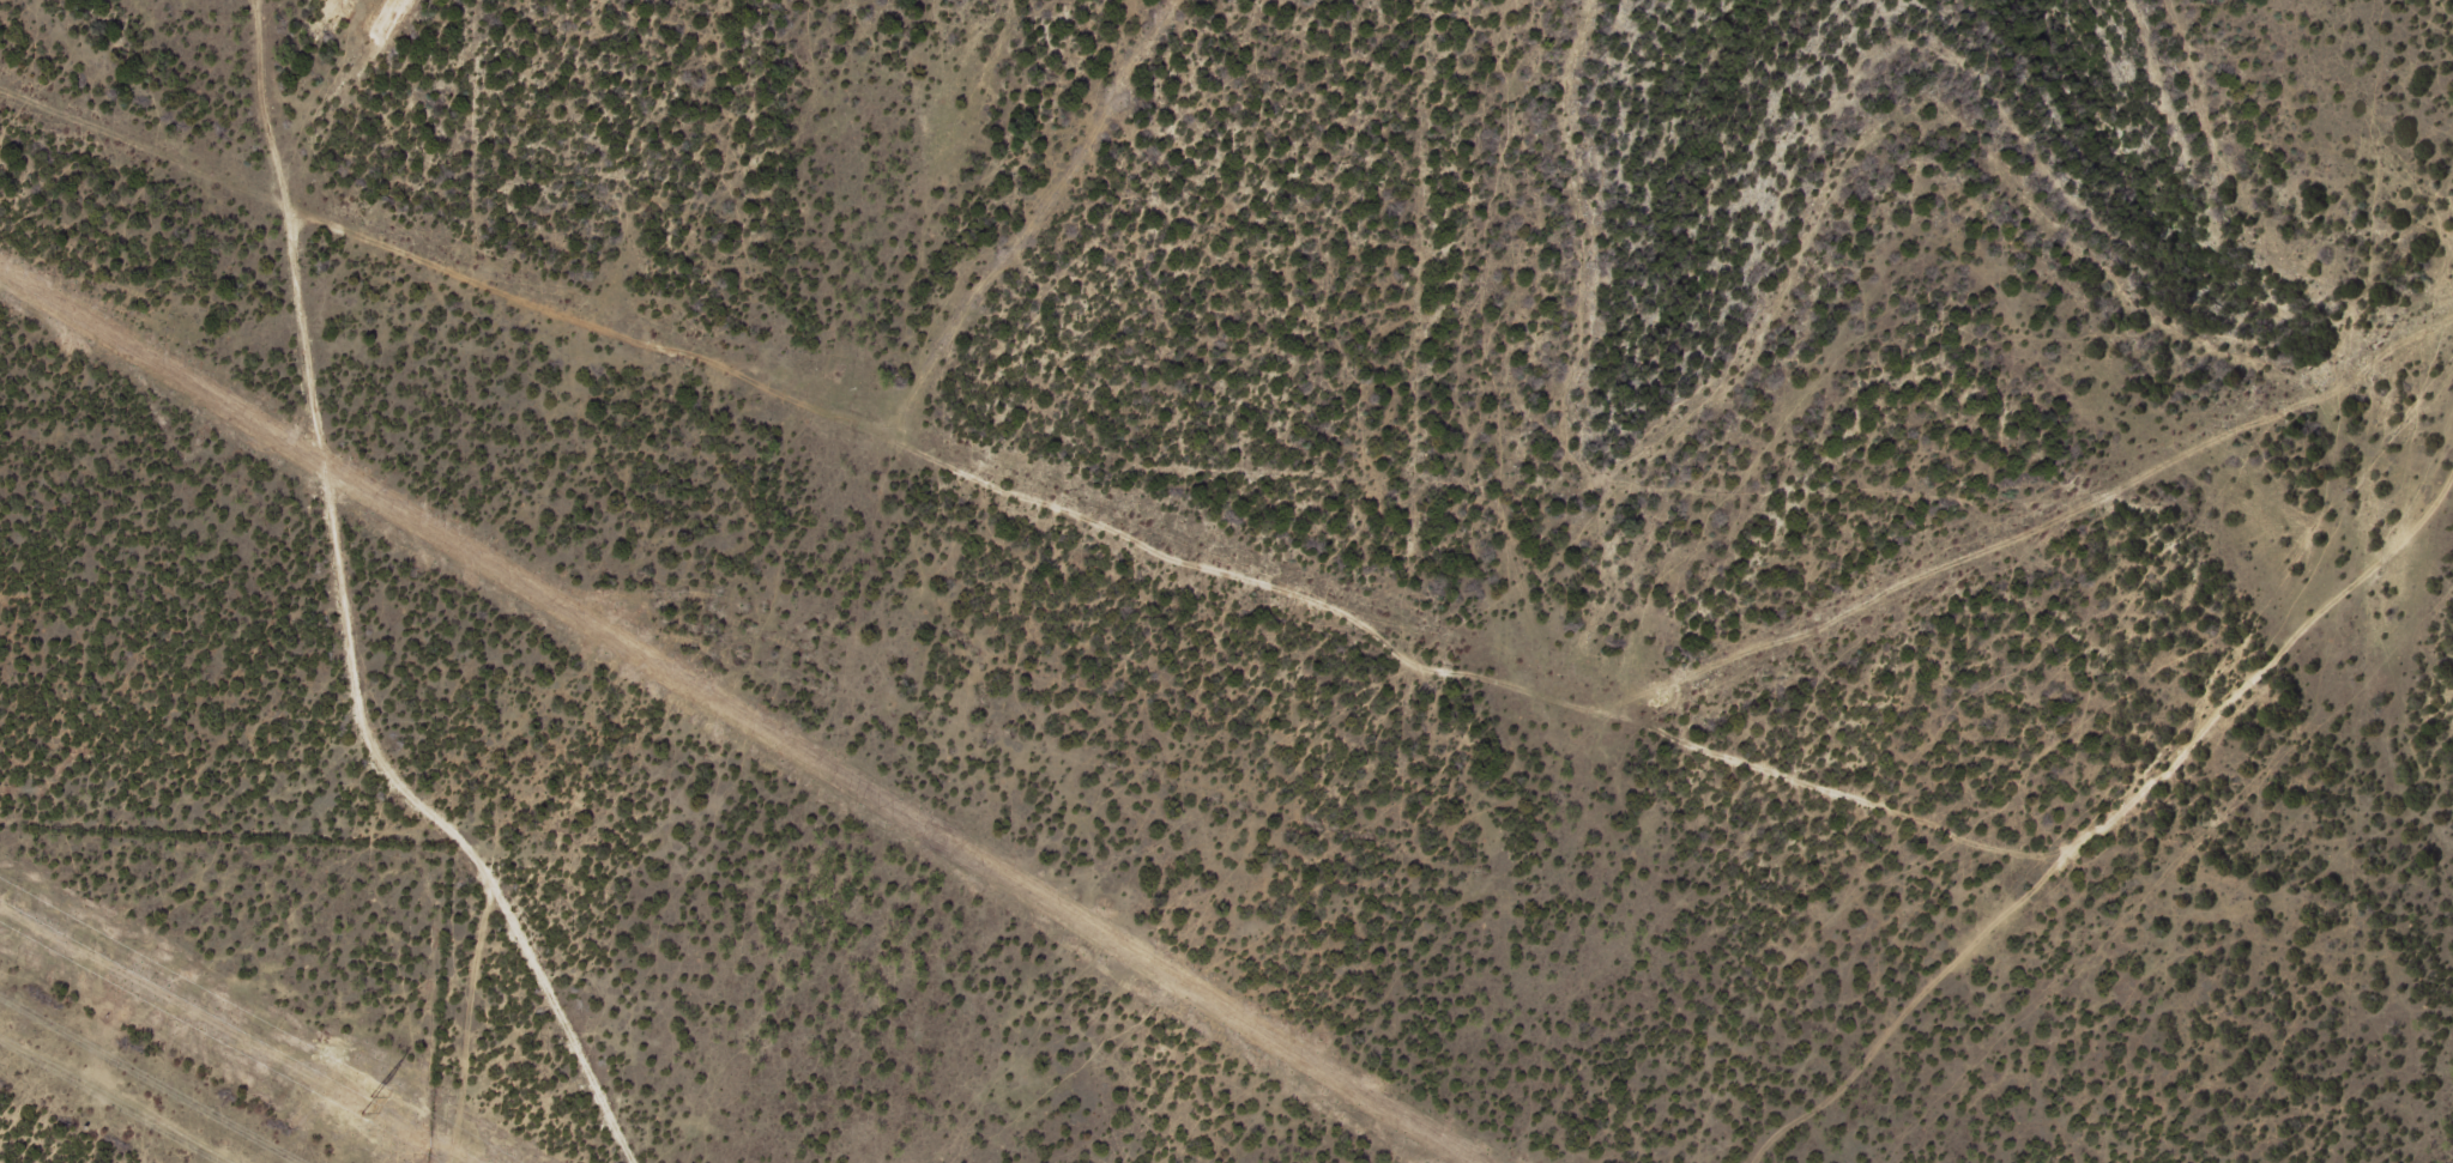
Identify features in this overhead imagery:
road: (375, 592)
road: (2125, 838)

